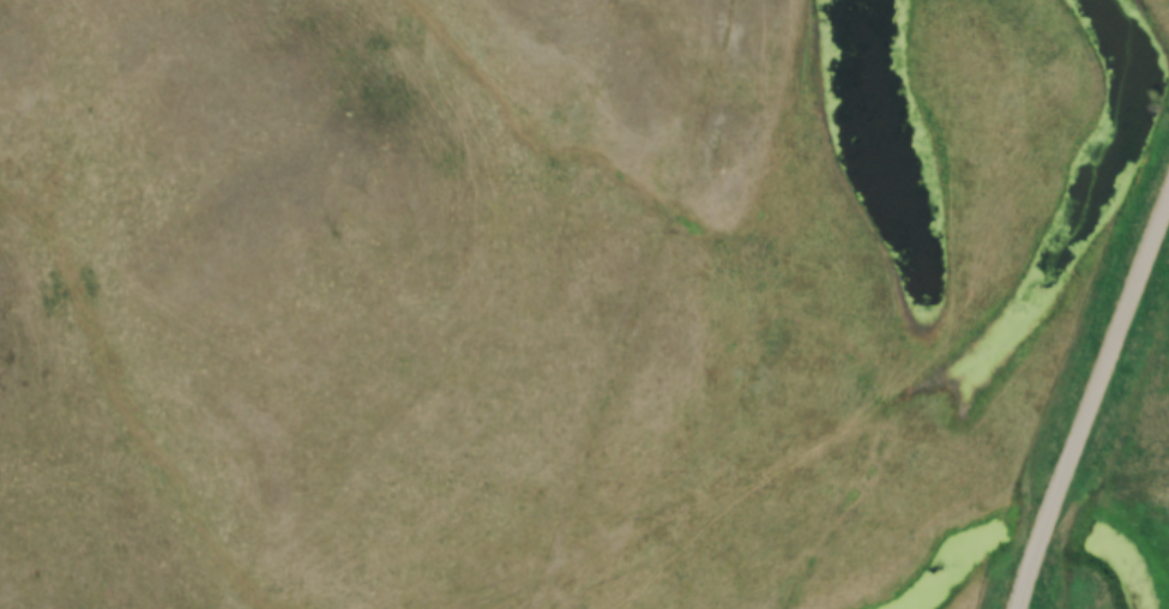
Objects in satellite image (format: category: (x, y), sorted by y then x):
road: (1091, 408)

